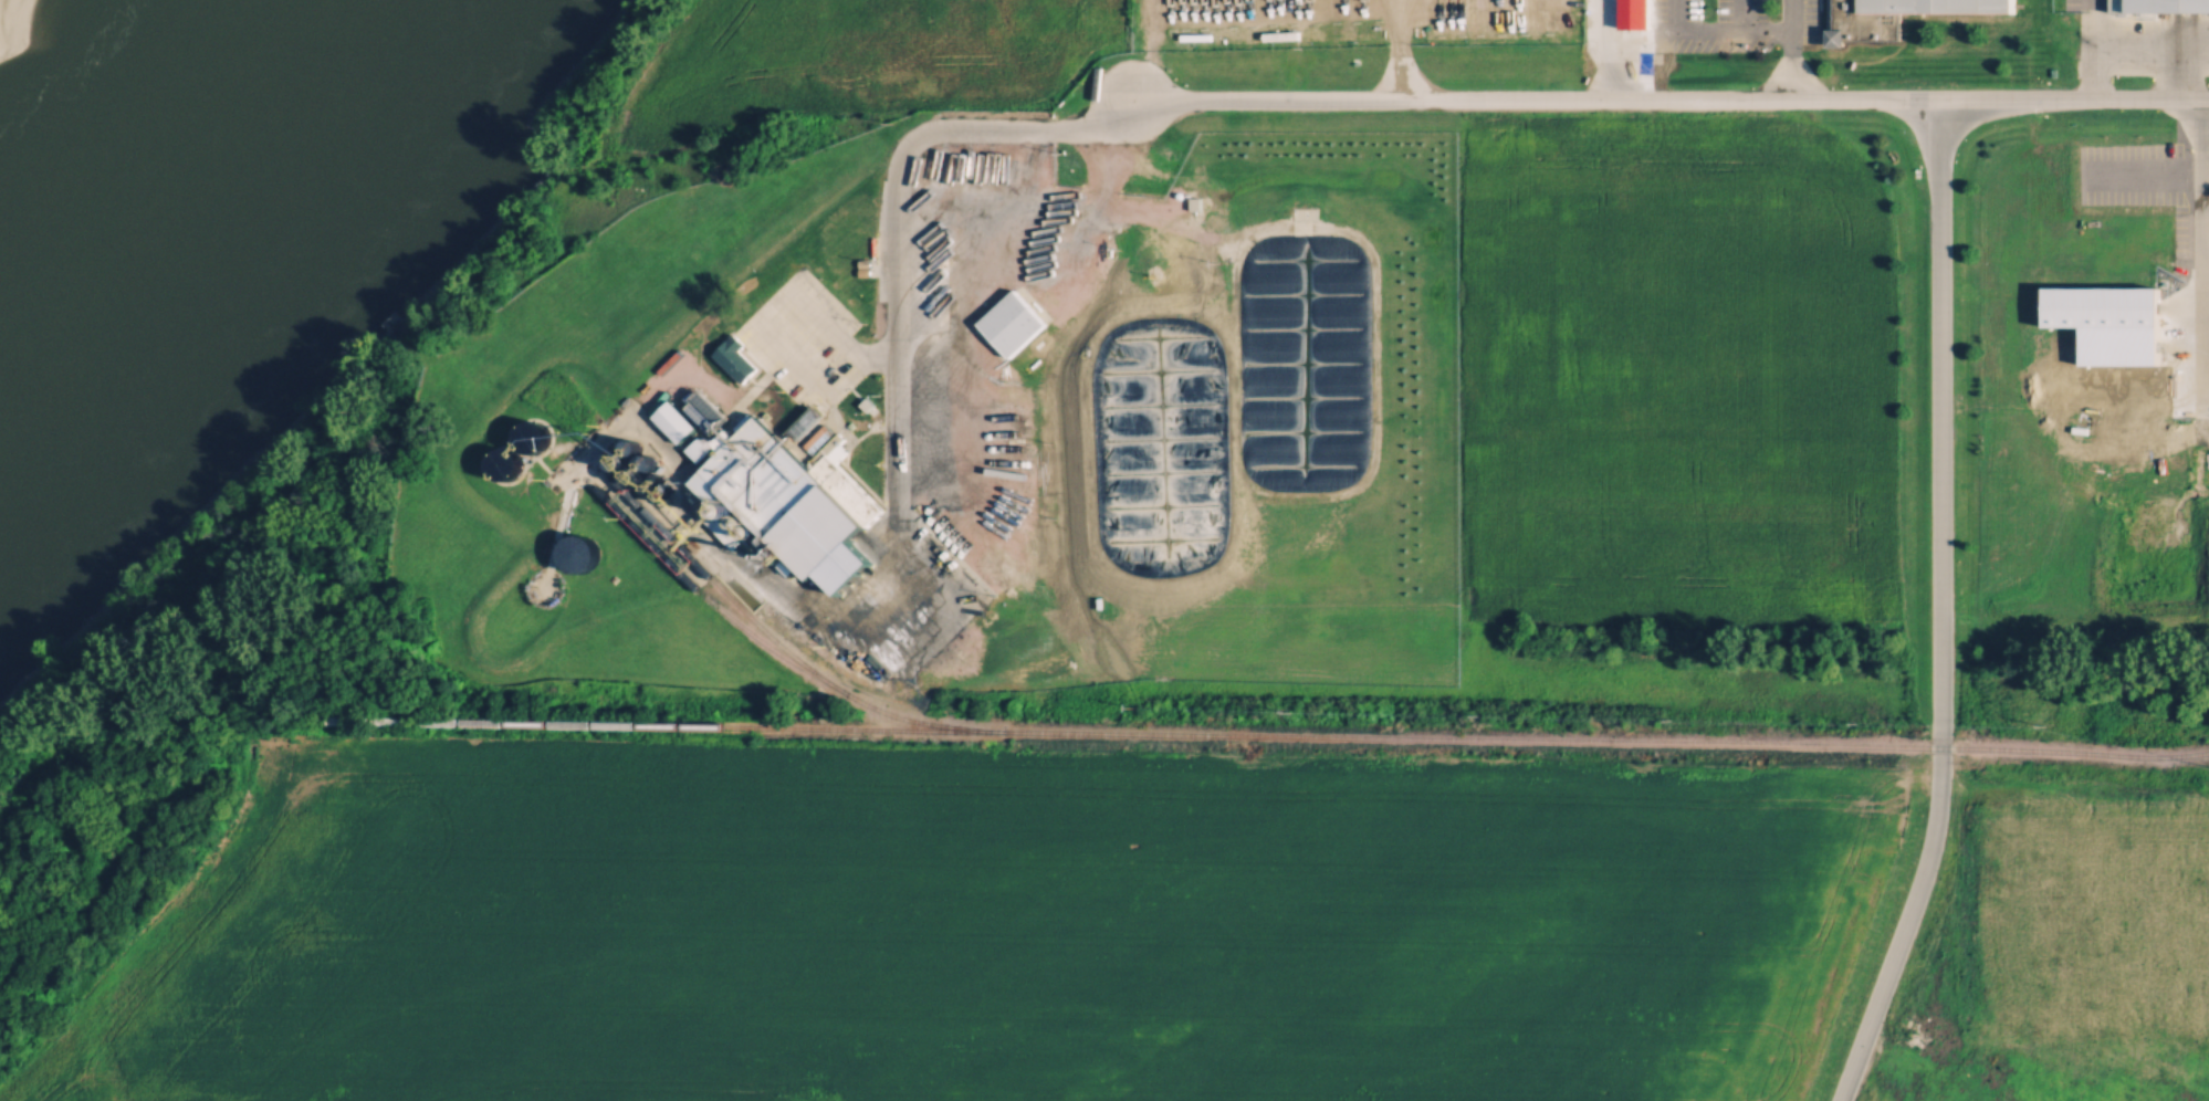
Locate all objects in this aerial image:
building: (2168, 4)
building: (1944, 6)
road: (1399, 49)
road: (1789, 49)
road: (2133, 57)
road: (1668, 97)
road: (1017, 130)
river: (160, 176)
road: (2199, 253)
road: (2203, 314)
building: (1013, 321)
building: (2100, 335)
building: (516, 461)
road: (891, 475)
building: (781, 493)
building: (577, 550)
road: (1943, 608)
railway: (814, 681)
railway: (1290, 738)

